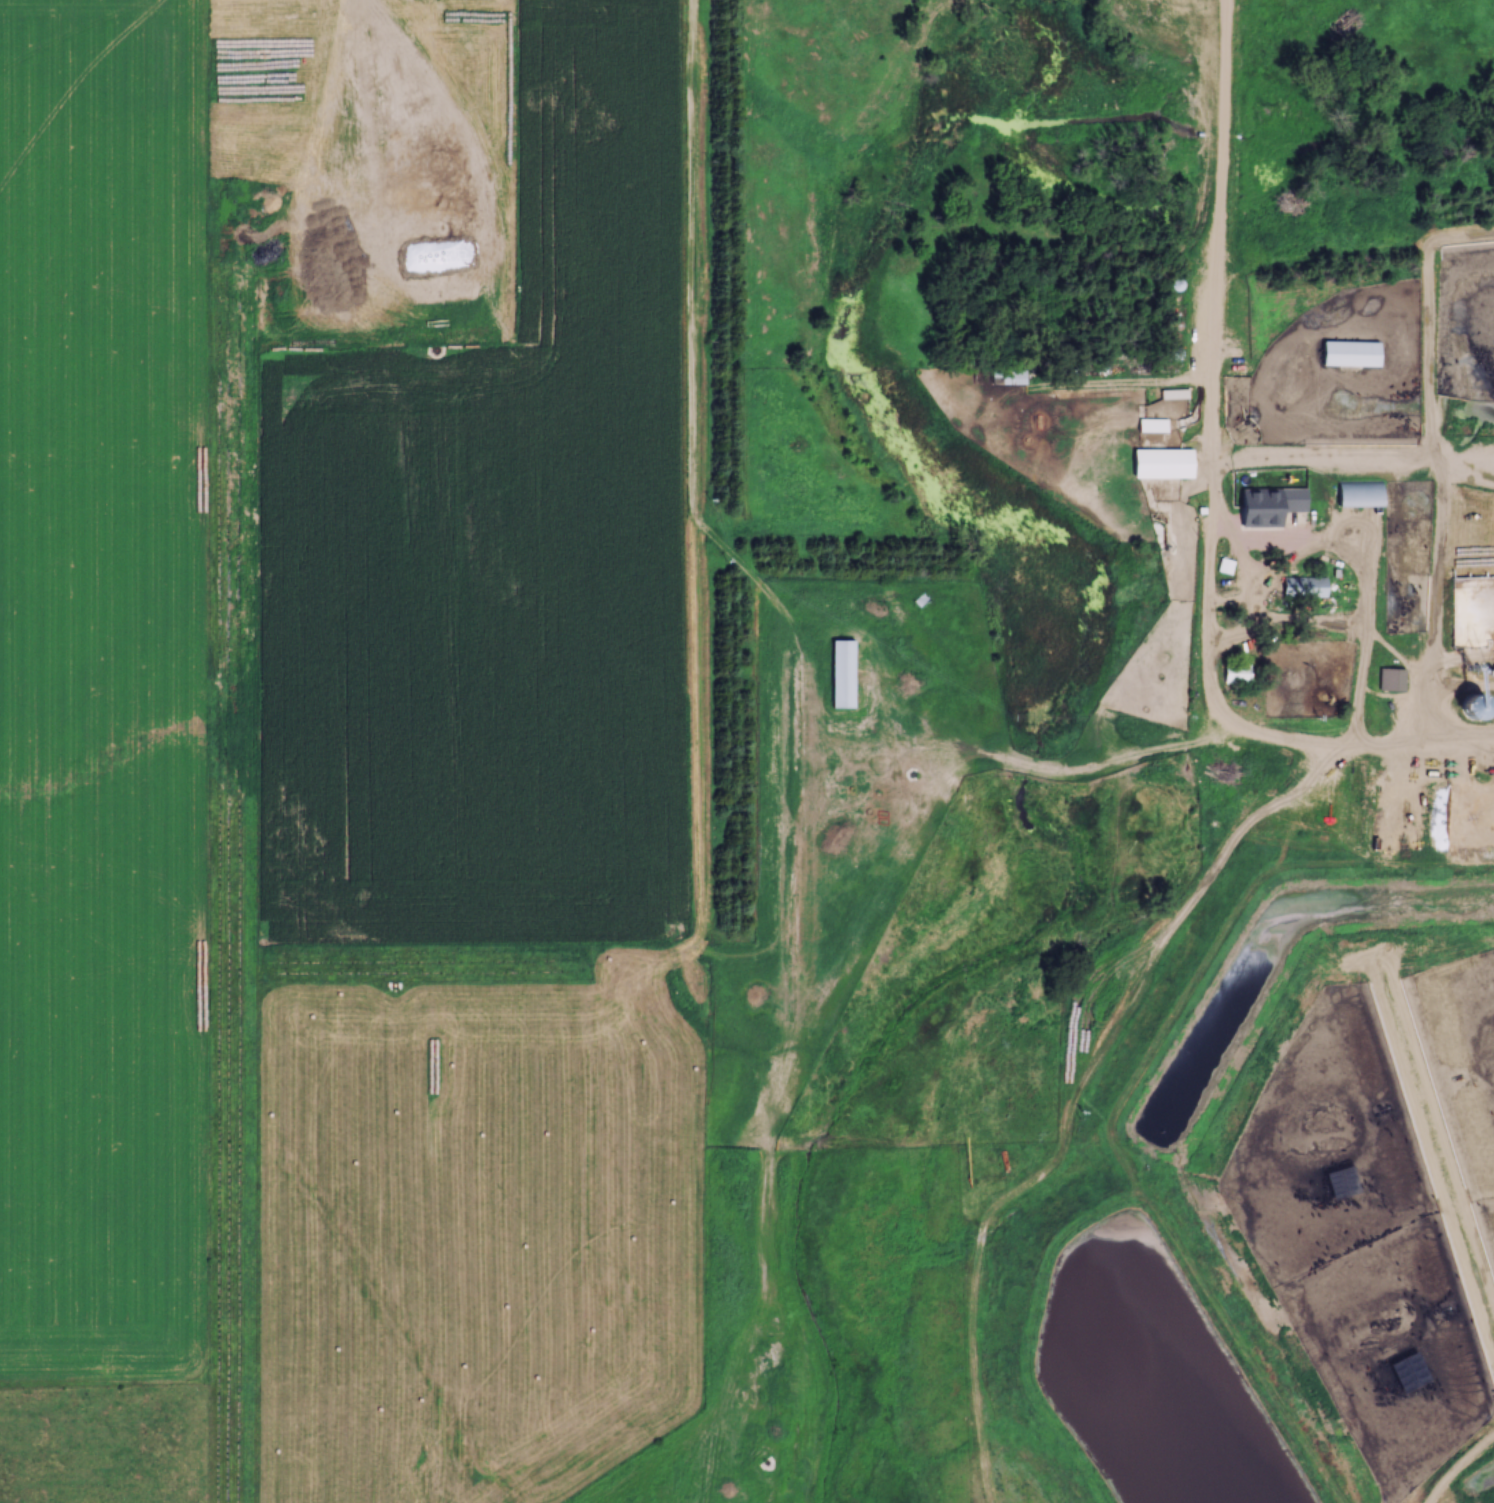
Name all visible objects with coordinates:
road: (1218, 235)
building: (1350, 354)
building: (1238, 368)
building: (1007, 378)
building: (1147, 426)
building: (1156, 464)
building: (1357, 494)
building: (1267, 503)
building: (1302, 588)
building: (1234, 674)
building: (841, 675)
road: (1389, 717)
building: (1480, 789)

